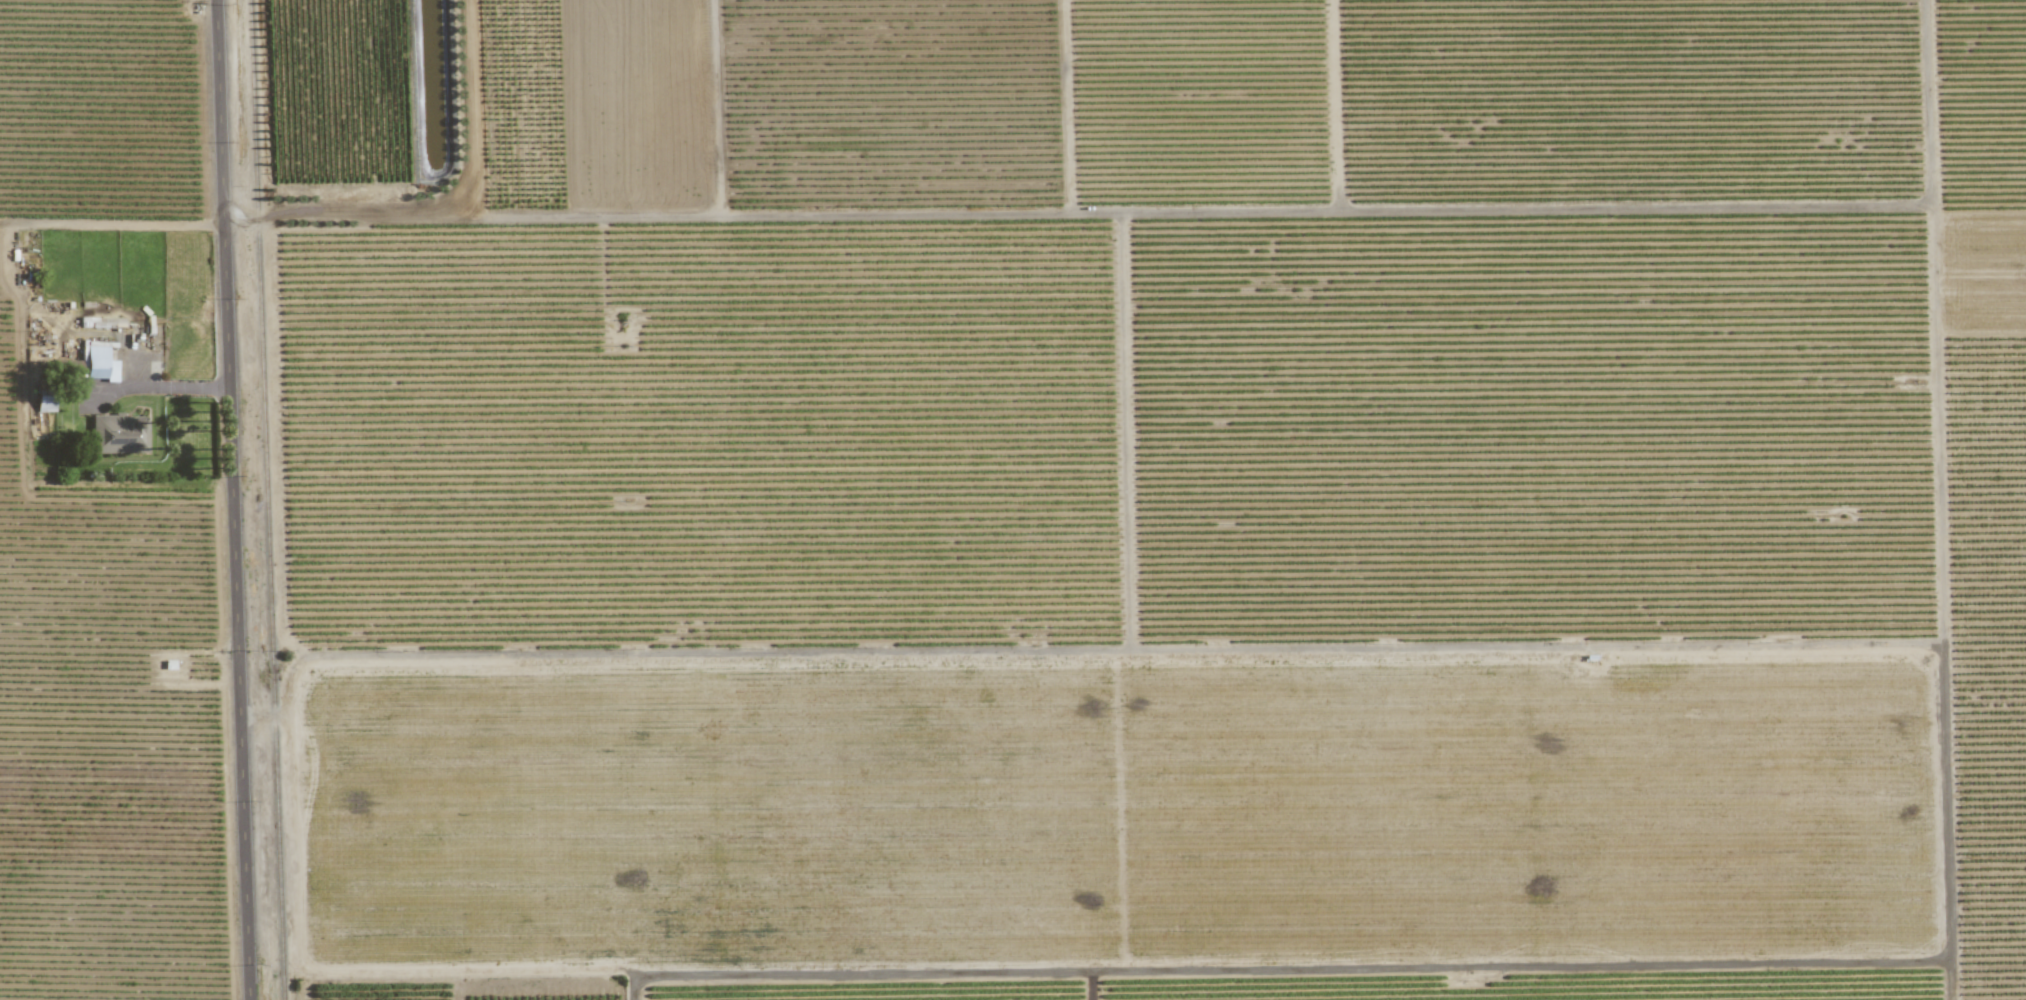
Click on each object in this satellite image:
road: (439, 201)
road: (15, 287)
building: (97, 362)
building: (44, 401)
building: (118, 433)
road: (235, 499)

